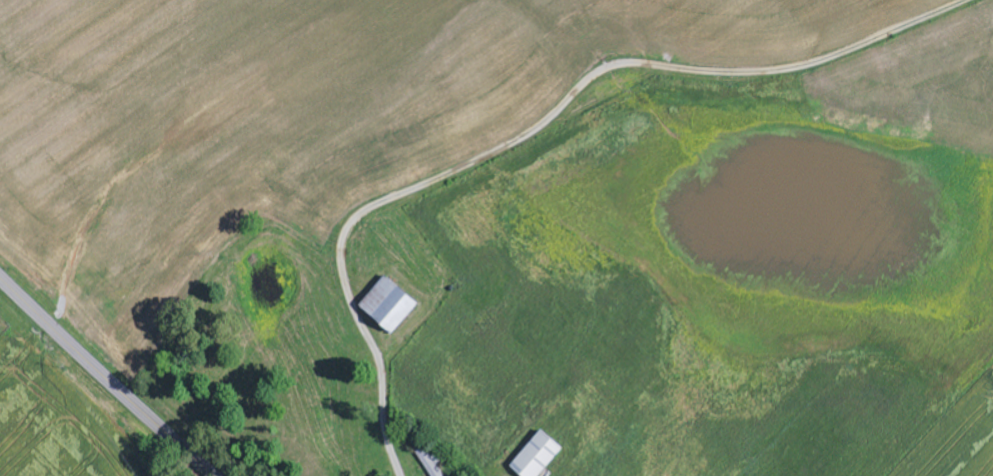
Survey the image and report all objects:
building: (392, 304)
road: (106, 377)
building: (540, 455)
building: (431, 462)

